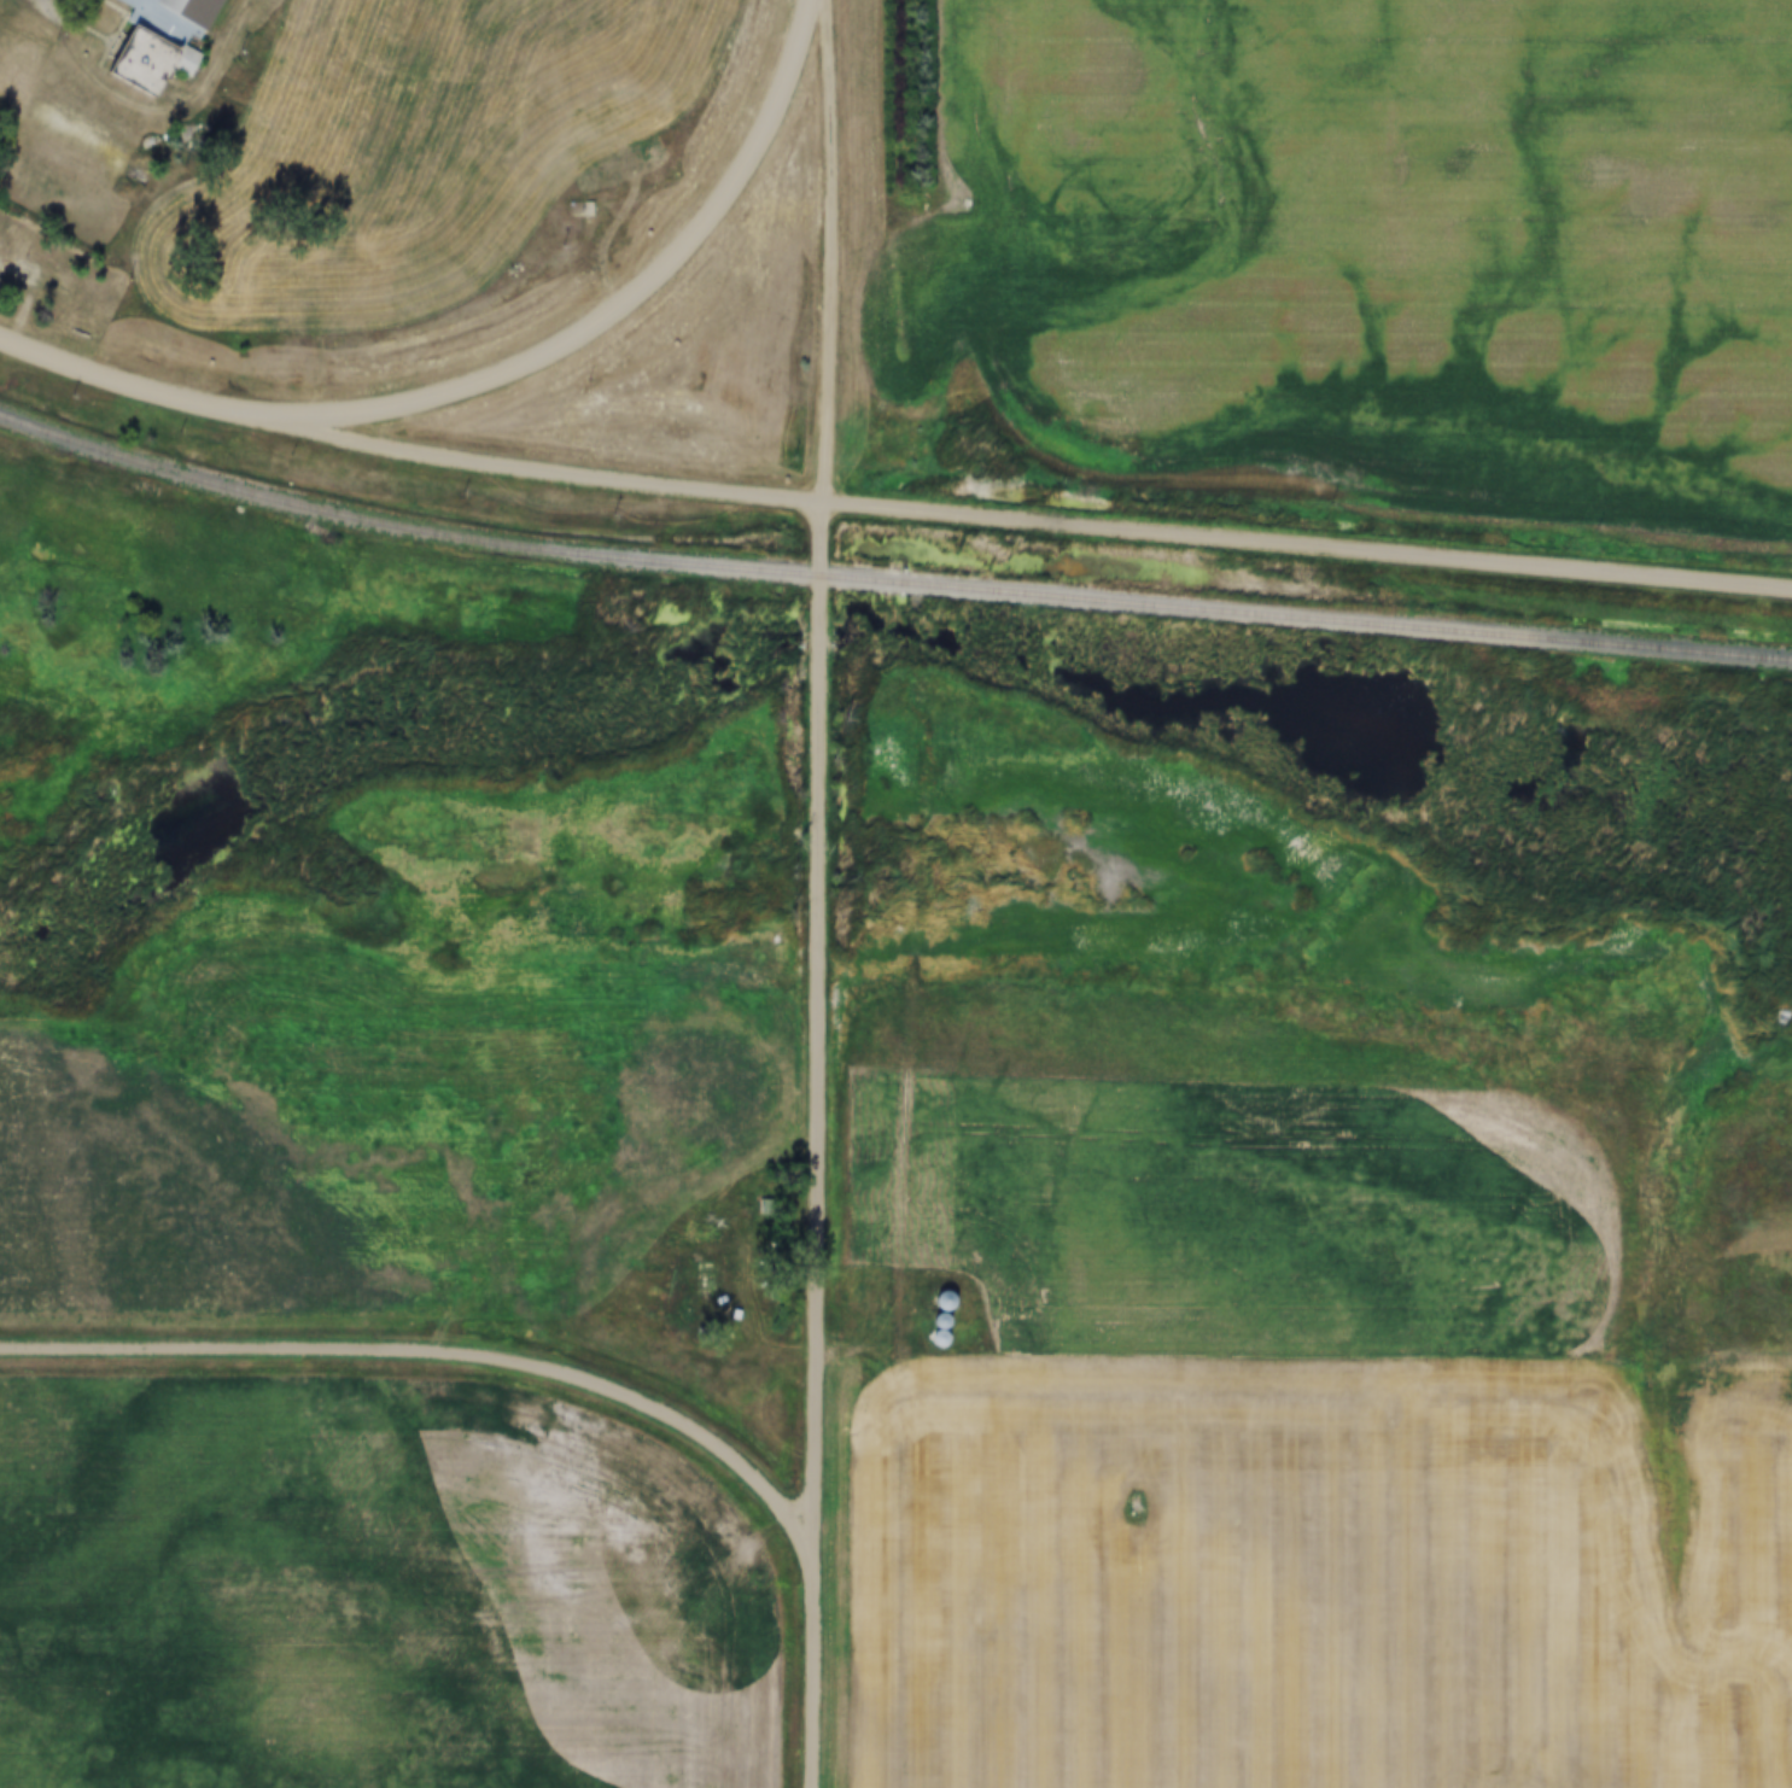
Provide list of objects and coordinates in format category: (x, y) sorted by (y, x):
building: (189, 14)
building: (163, 57)
road: (148, 115)
building: (582, 210)
road: (618, 310)
road: (130, 382)
road: (543, 466)
road: (1308, 542)
railway: (888, 575)
road: (821, 893)
building: (767, 1208)
building: (946, 1299)
building: (955, 1299)
silo: (955, 1299)
building: (951, 1320)
silo: (951, 1320)
building: (947, 1338)
silo: (947, 1338)
road: (437, 1350)

